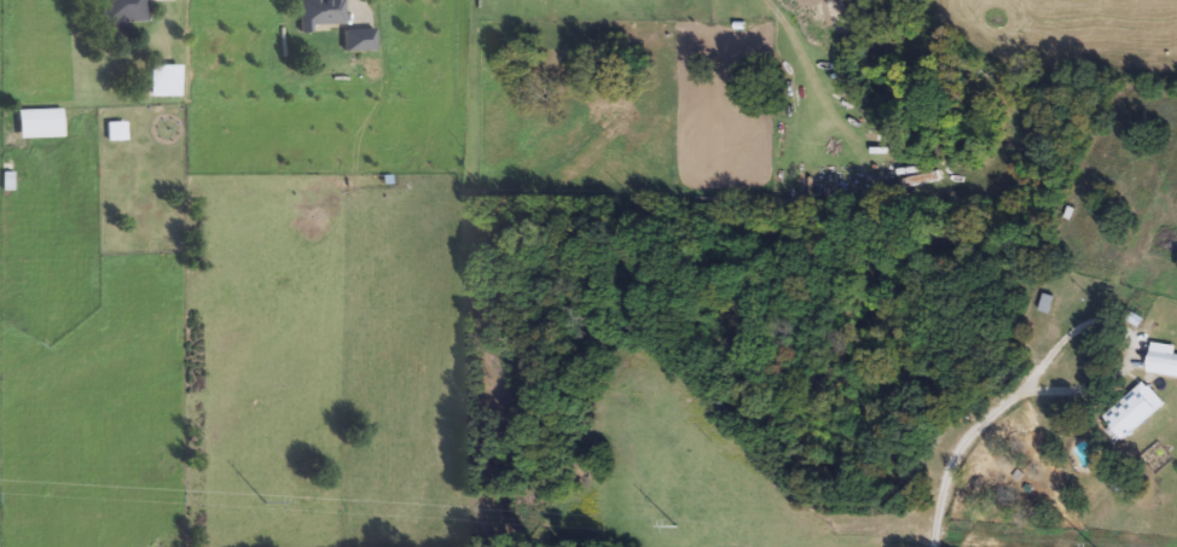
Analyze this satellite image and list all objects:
building: (124, 12)
building: (321, 13)
building: (358, 40)
building: (164, 81)
building: (40, 124)
building: (115, 134)
road: (1123, 342)
building: (1164, 361)
building: (1136, 412)
road: (951, 455)
power tower: (261, 501)
power tower: (673, 525)

